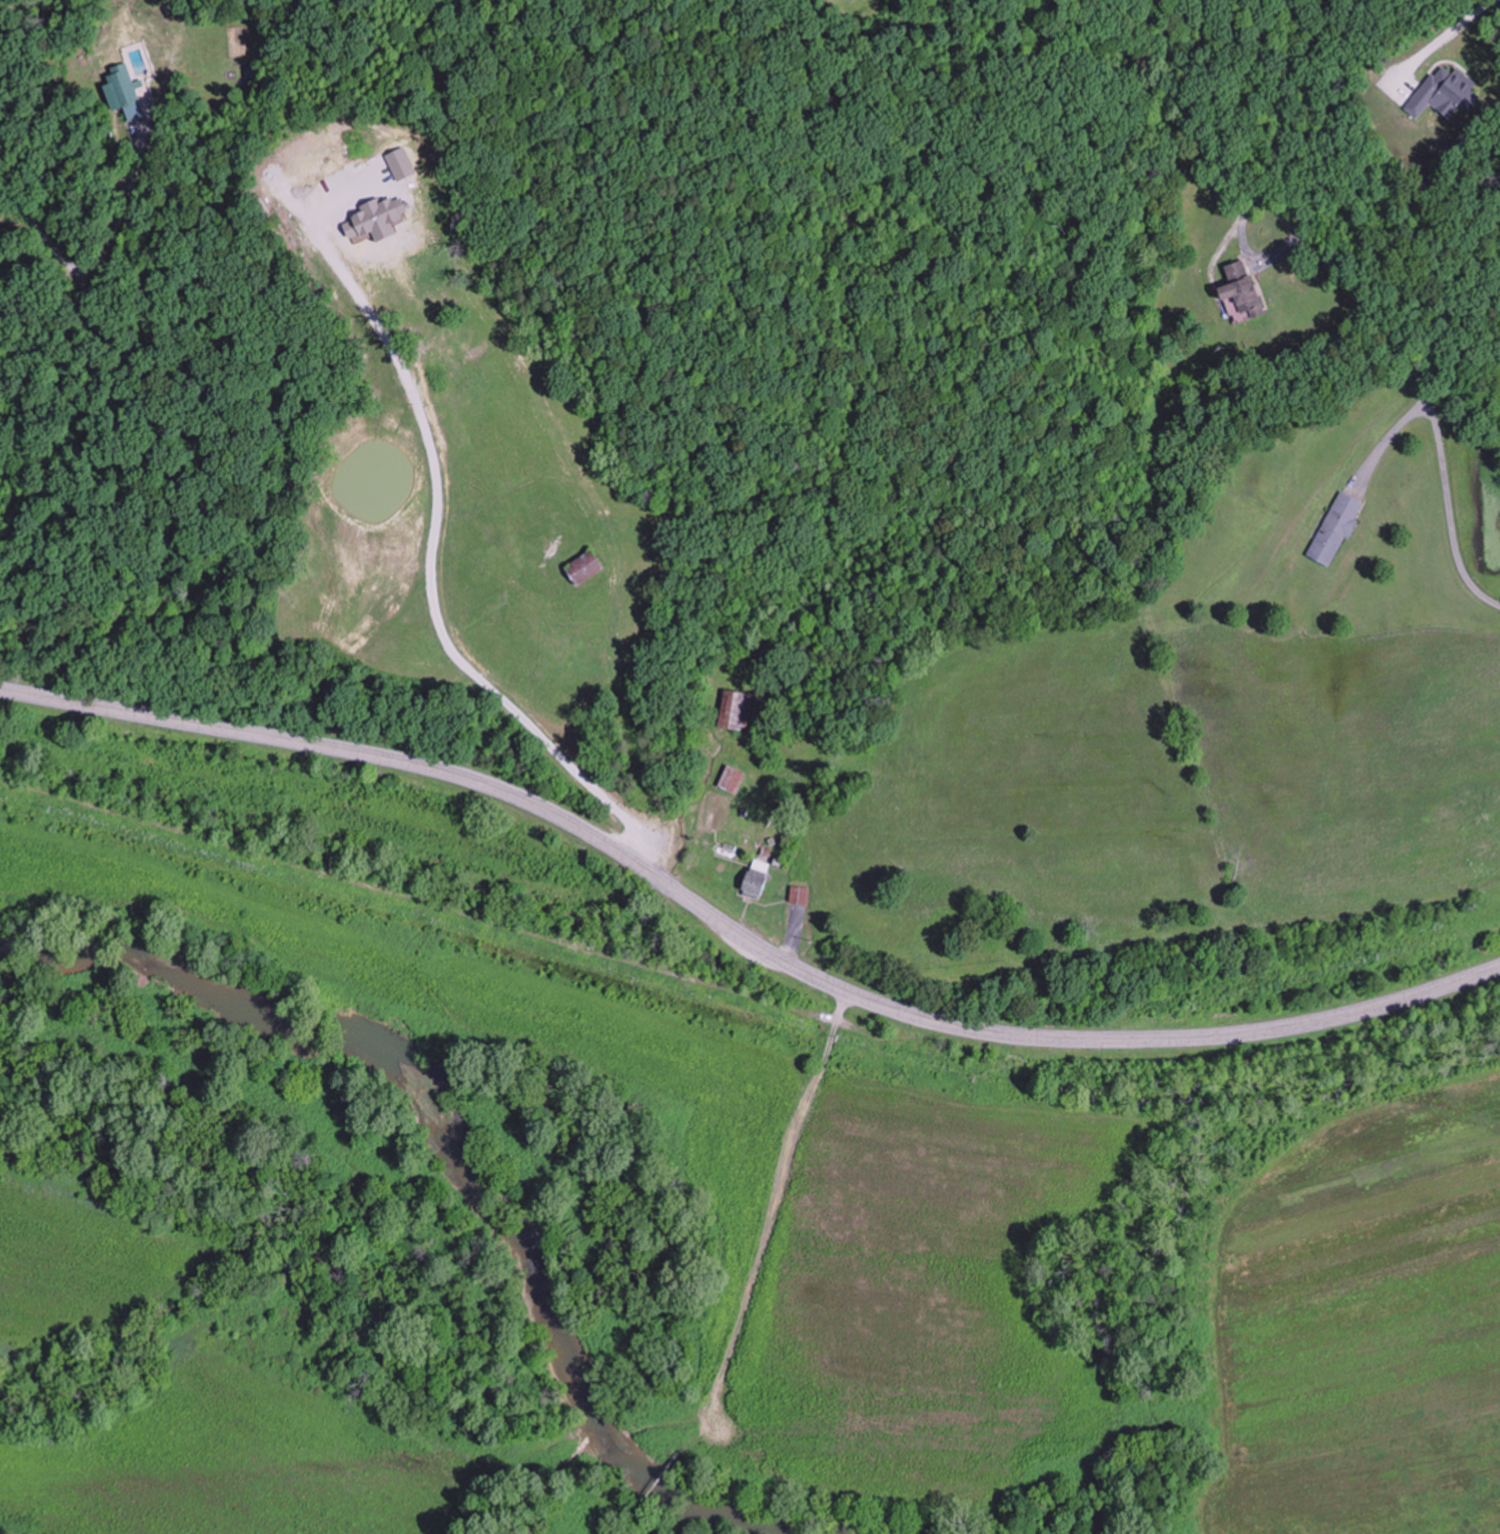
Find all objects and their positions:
building: (123, 92)
road: (1300, 242)
building: (1240, 287)
building: (1333, 528)
building: (580, 567)
building: (733, 710)
building: (730, 779)
building: (753, 879)
building: (797, 895)
road: (739, 934)
river: (472, 1161)
road: (760, 1229)
road: (653, 1480)
road: (623, 1516)

